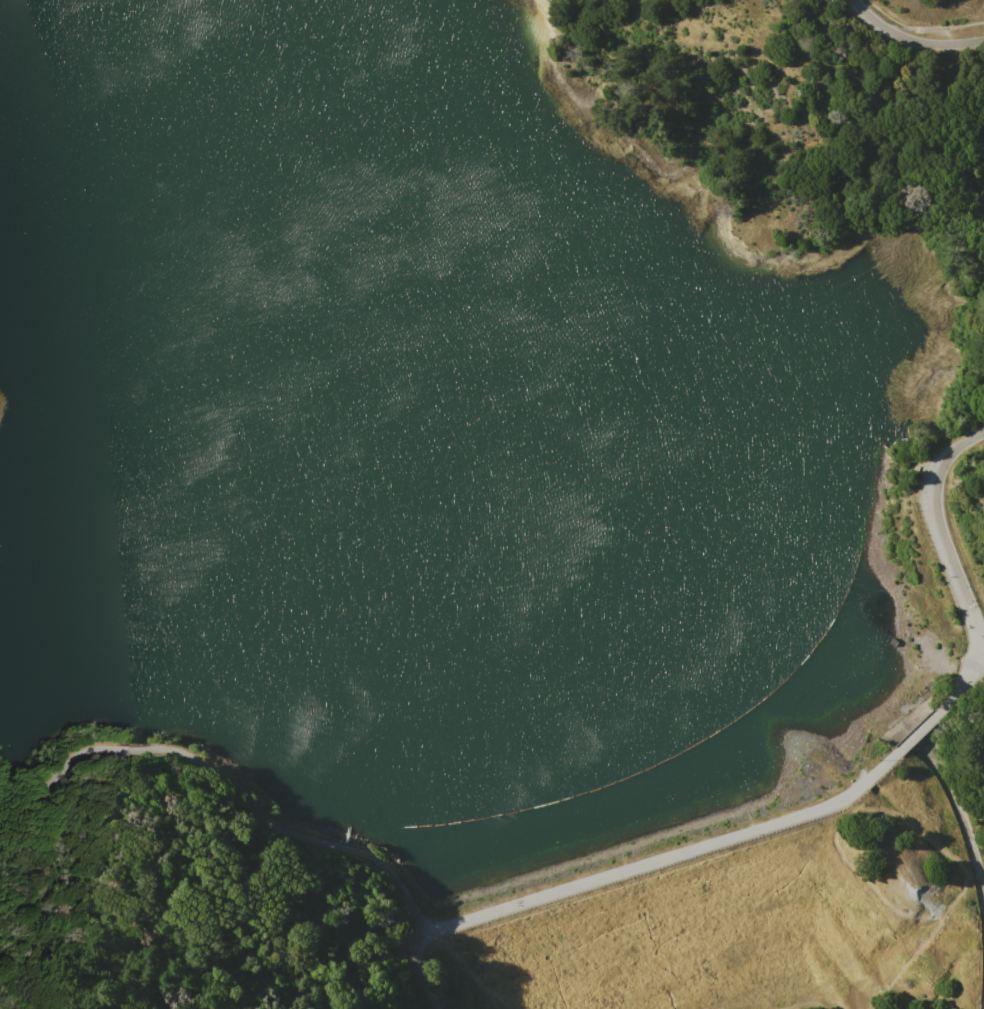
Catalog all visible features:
road: (914, 38)
road: (945, 531)
road: (962, 686)
road: (917, 731)
road: (202, 765)
dam: (734, 835)
road: (668, 856)
road: (416, 972)

